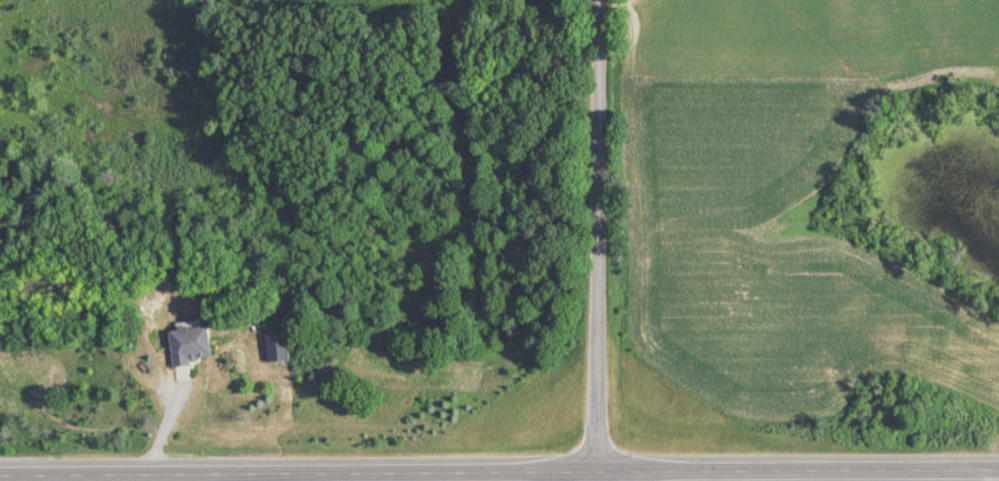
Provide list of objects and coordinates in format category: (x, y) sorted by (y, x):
road: (594, 240)
building: (184, 343)
building: (271, 347)
road: (499, 470)
road: (994, 475)

